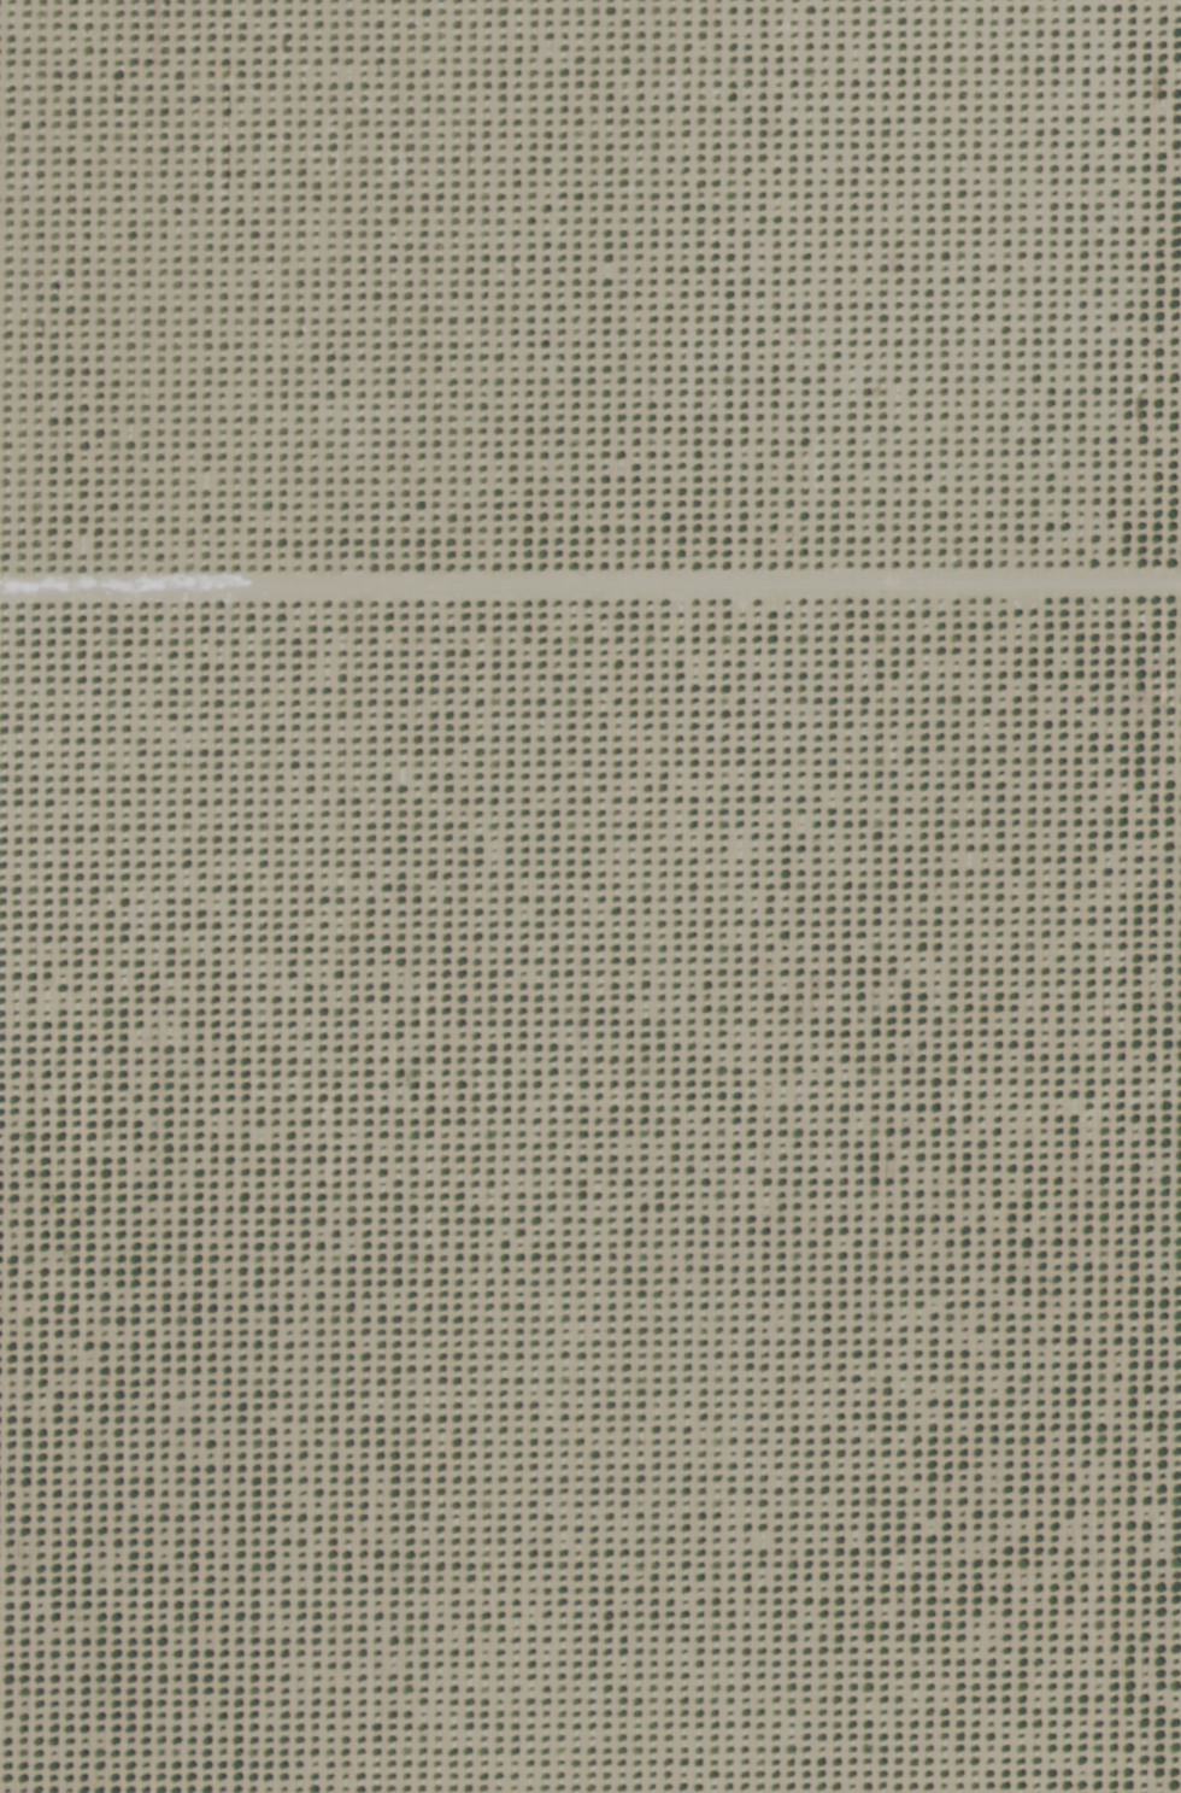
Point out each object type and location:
crop: (590, 896)
road: (1175, 1404)

